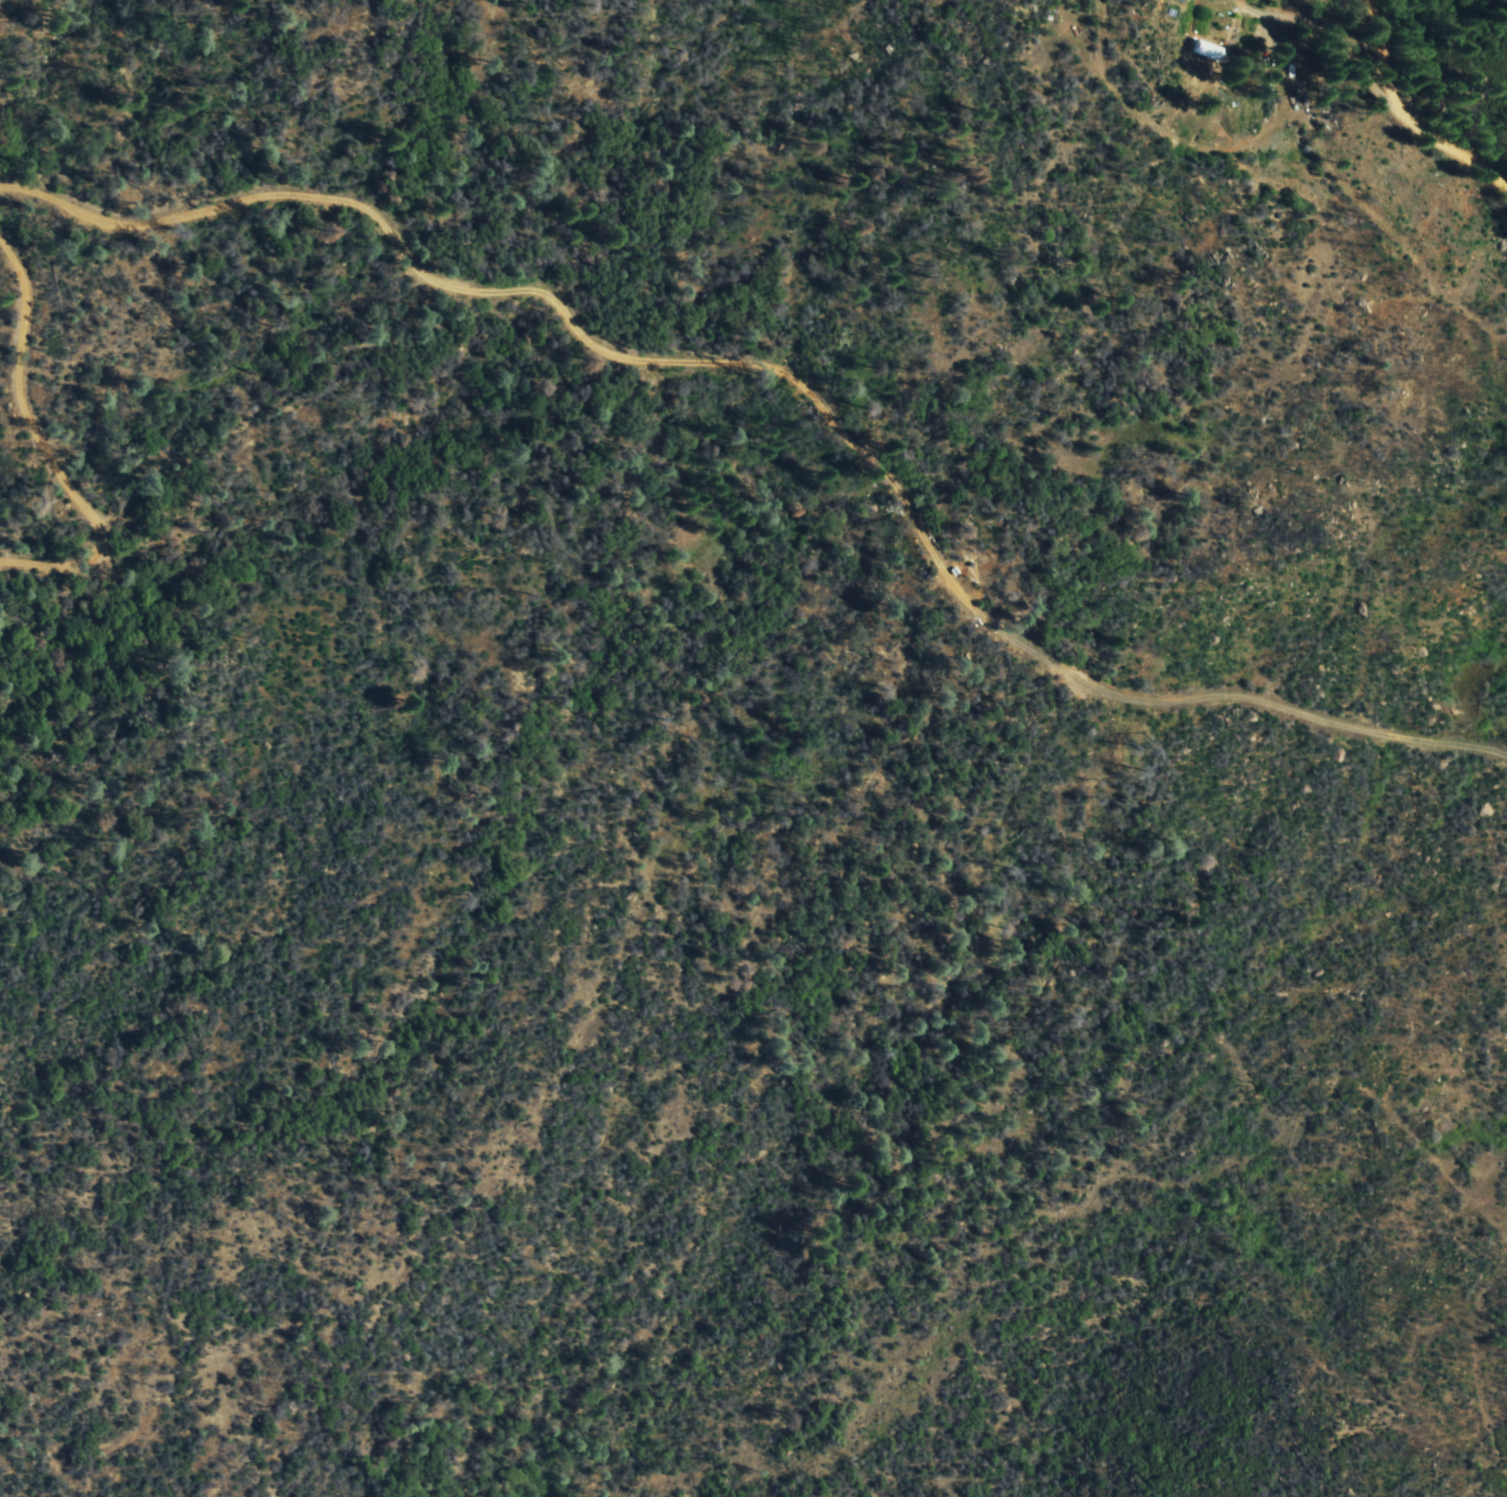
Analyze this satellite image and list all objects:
building: (1203, 50)
road: (1437, 76)

